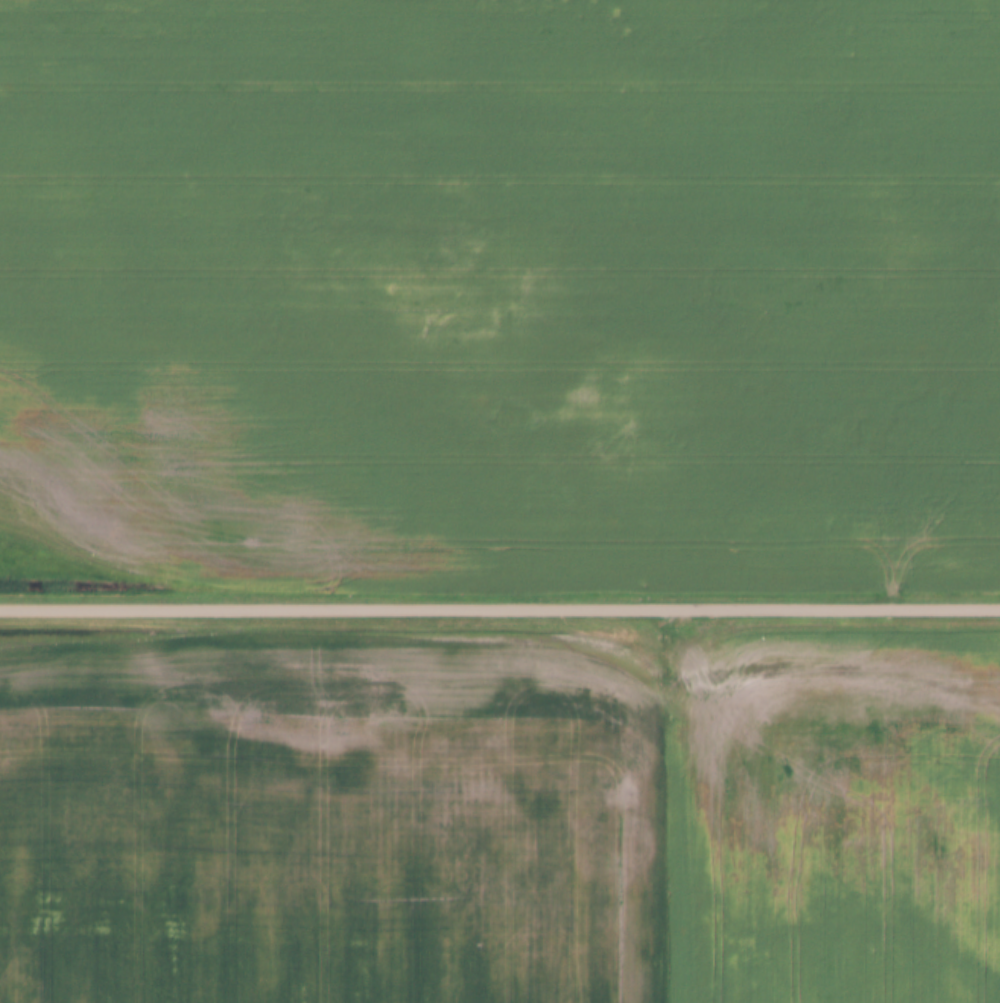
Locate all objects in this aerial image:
road: (500, 609)

